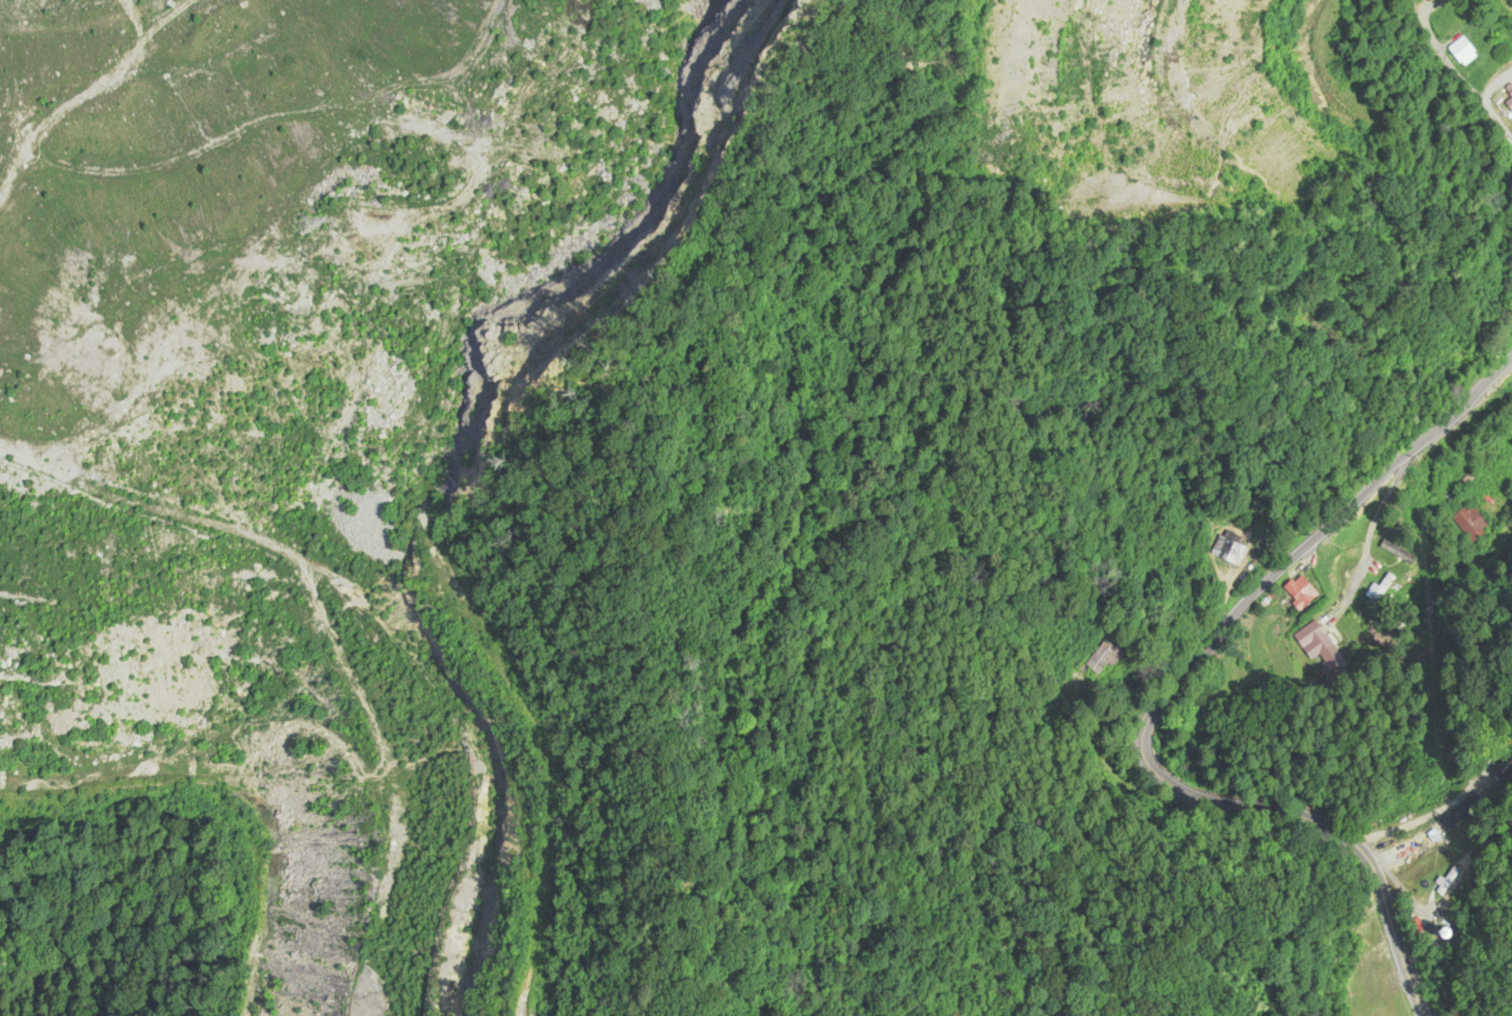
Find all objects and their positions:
building: (1466, 51)
building: (1471, 524)
building: (1226, 548)
road: (982, 582)
building: (1306, 592)
building: (1320, 648)
building: (1109, 655)
road: (1165, 697)

